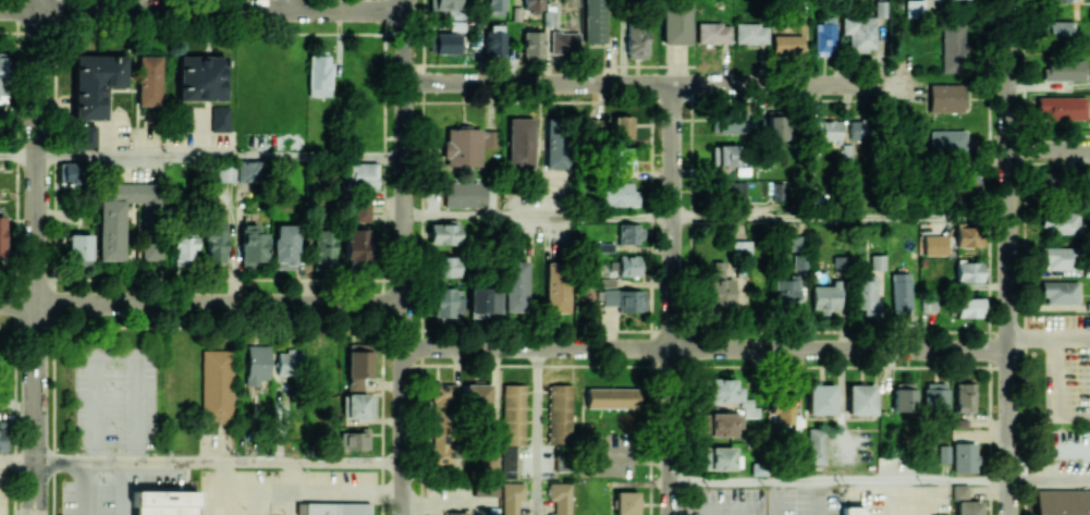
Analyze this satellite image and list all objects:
building: (1061, 0)
road: (293, 4)
road: (404, 4)
building: (532, 4)
road: (201, 8)
building: (450, 8)
building: (494, 8)
building: (595, 21)
building: (676, 24)
building: (1060, 29)
building: (859, 32)
building: (713, 33)
building: (751, 33)
road: (201, 34)
building: (824, 36)
building: (636, 39)
building: (494, 41)
building: (532, 41)
building: (564, 41)
building: (446, 42)
building: (787, 44)
building: (953, 50)
building: (1063, 70)
building: (319, 74)
building: (3, 77)
building: (200, 77)
building: (148, 79)
building: (96, 83)
road: (653, 84)
building: (945, 97)
building: (1061, 108)
building: (185, 118)
building: (219, 118)
building: (732, 121)
building: (593, 125)
building: (777, 125)
building: (622, 126)
building: (859, 130)
building: (824, 131)
building: (87, 137)
building: (489, 138)
building: (520, 143)
building: (946, 143)
building: (555, 144)
building: (462, 146)
road: (1049, 148)
building: (725, 155)
road: (19, 156)
road: (221, 158)
building: (621, 159)
building: (248, 171)
building: (70, 172)
building: (224, 173)
building: (360, 174)
building: (1046, 179)
building: (967, 182)
building: (731, 191)
building: (464, 194)
building: (617, 194)
building: (362, 209)
building: (119, 216)
road: (538, 217)
road: (840, 219)
building: (1062, 222)
road: (37, 230)
building: (443, 233)
building: (629, 233)
building: (968, 235)
building: (2, 236)
building: (215, 242)
building: (356, 242)
building: (253, 243)
building: (285, 244)
building: (935, 245)
building: (742, 246)
building: (183, 247)
building: (79, 249)
building: (323, 249)
road: (1007, 257)
building: (1056, 258)
road: (405, 261)
building: (445, 266)
building: (969, 271)
road: (201, 280)
building: (516, 285)
building: (556, 286)
building: (720, 287)
building: (786, 292)
building: (1060, 292)
building: (902, 293)
building: (866, 295)
road: (671, 296)
building: (825, 298)
building: (625, 299)
building: (445, 302)
building: (482, 302)
building: (930, 302)
road: (201, 303)
building: (969, 307)
road: (503, 330)
road: (1034, 335)
road: (1076, 335)
road: (706, 351)
road: (119, 357)
building: (256, 364)
building: (289, 364)
building: (357, 368)
building: (217, 385)
road: (1062, 389)
building: (723, 390)
building: (478, 394)
building: (610, 396)
building: (904, 396)
building: (964, 396)
building: (821, 398)
building: (861, 398)
building: (440, 400)
building: (357, 406)
building: (783, 407)
building: (559, 414)
building: (723, 424)
building: (512, 426)
road: (537, 432)
building: (2, 440)
building: (354, 440)
building: (817, 445)
building: (943, 454)
road: (629, 456)
building: (720, 457)
building: (964, 457)
road: (17, 461)
road: (220, 462)
building: (491, 462)
road: (14, 485)
road: (838, 485)
road: (1049, 486)
road: (40, 487)
road: (32, 488)
road: (85, 488)
road: (125, 488)
building: (485, 488)
building: (959, 491)
parking lot: (2, 494)
building: (512, 498)
building: (560, 498)
road: (775, 500)
road: (892, 500)
parking lot: (903, 500)
parking lot: (810, 501)
building: (164, 502)
building: (626, 502)
parking lot: (730, 502)
building: (1063, 502)
building: (336, 508)
building: (969, 508)
building: (853, 511)
road: (670, 512)
road: (671, 512)
building: (454, 513)

